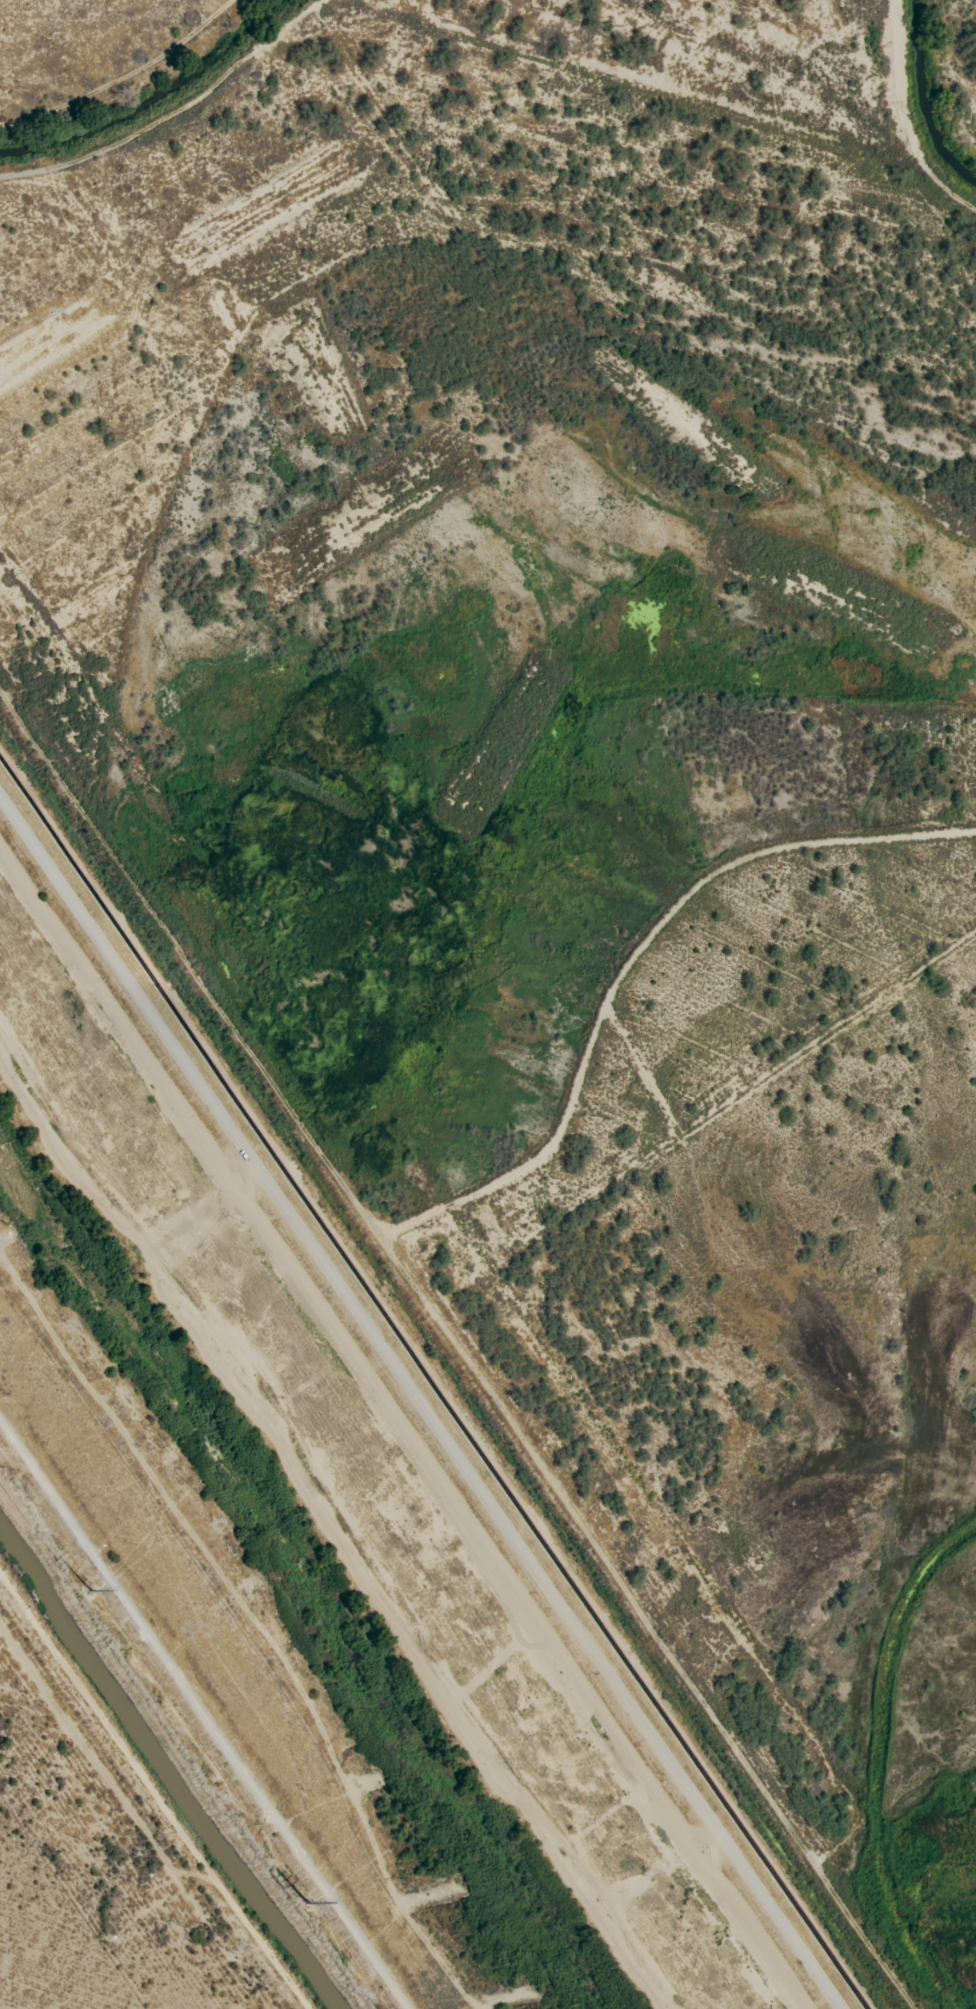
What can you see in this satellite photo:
river: (310, 1578)
power tower: (84, 1591)
road: (201, 1717)
road: (150, 1797)
power tower: (300, 1901)

